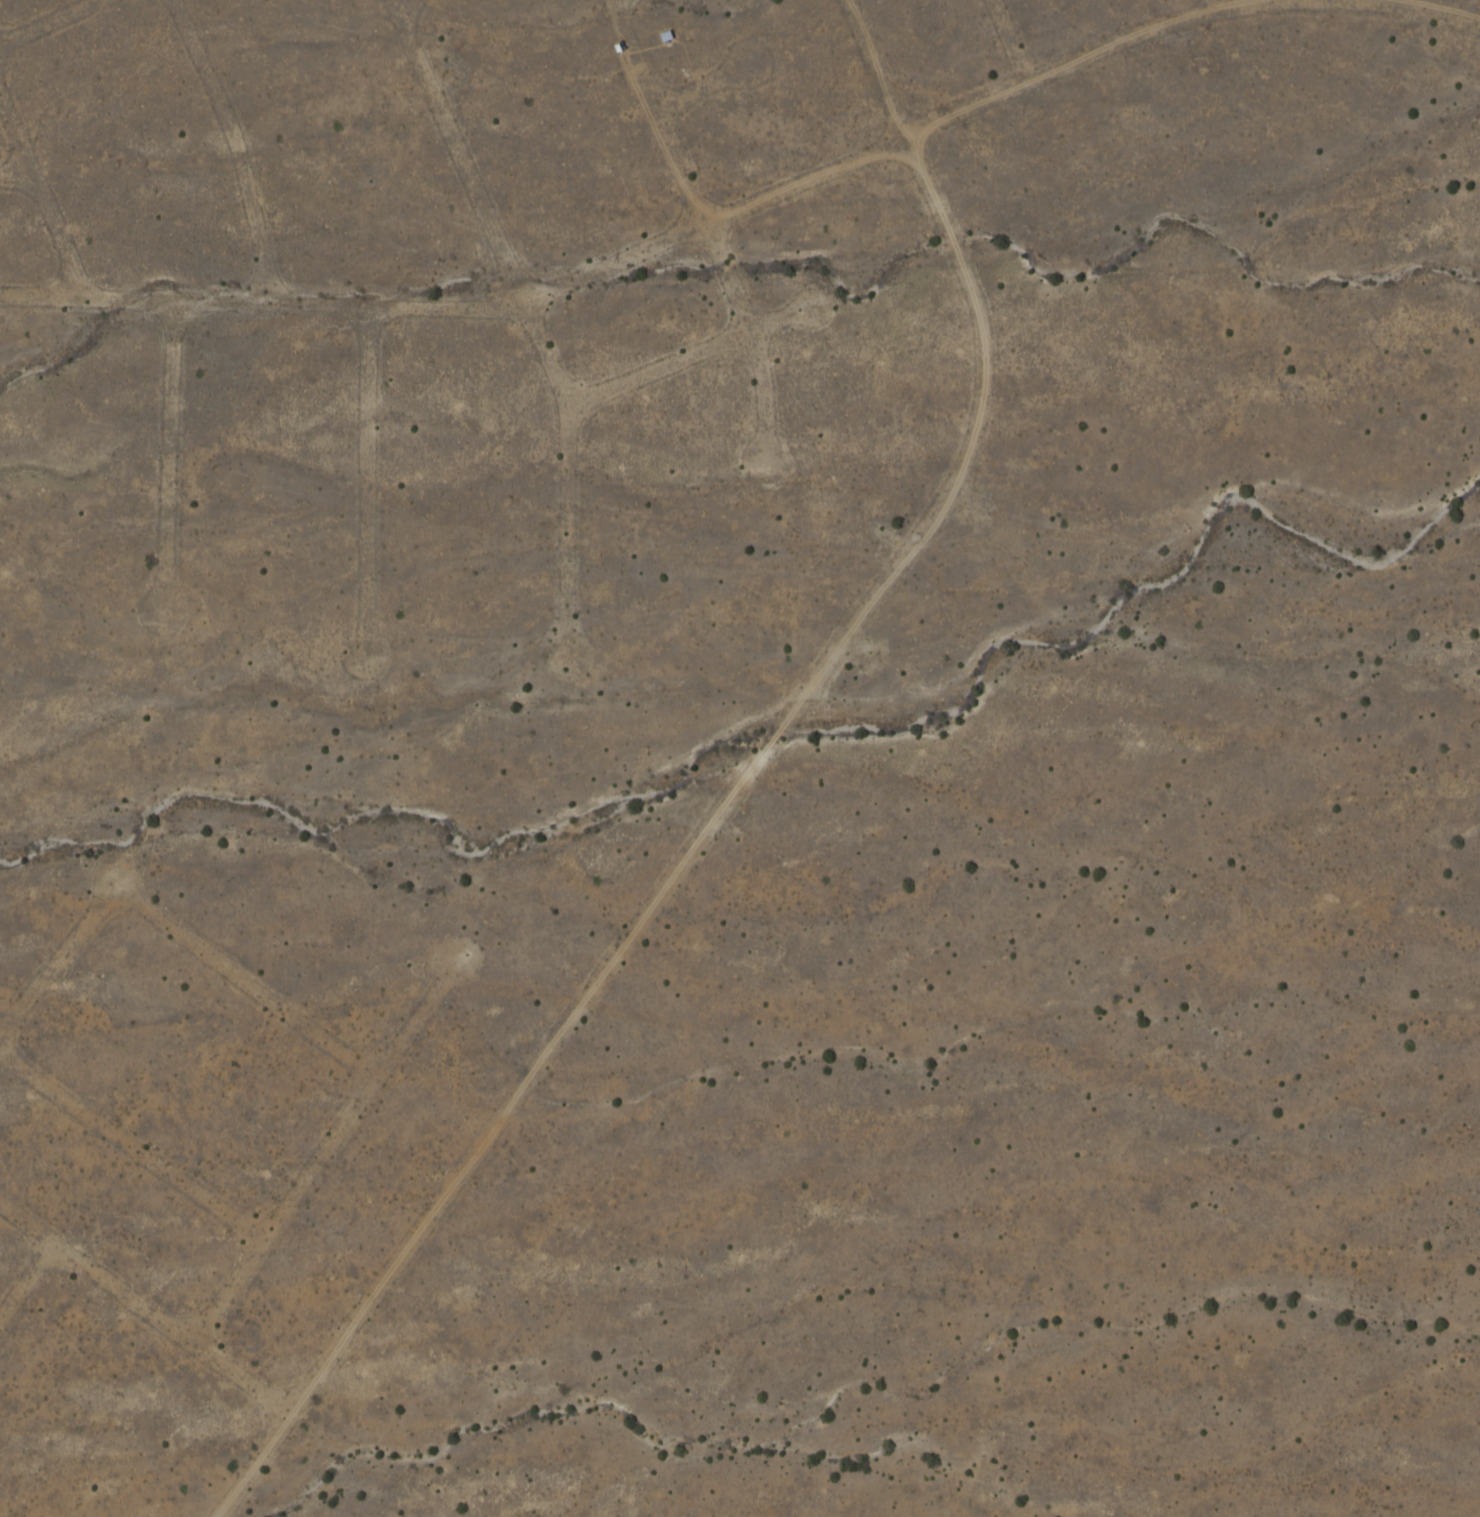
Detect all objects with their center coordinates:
road: (1237, 1470)

